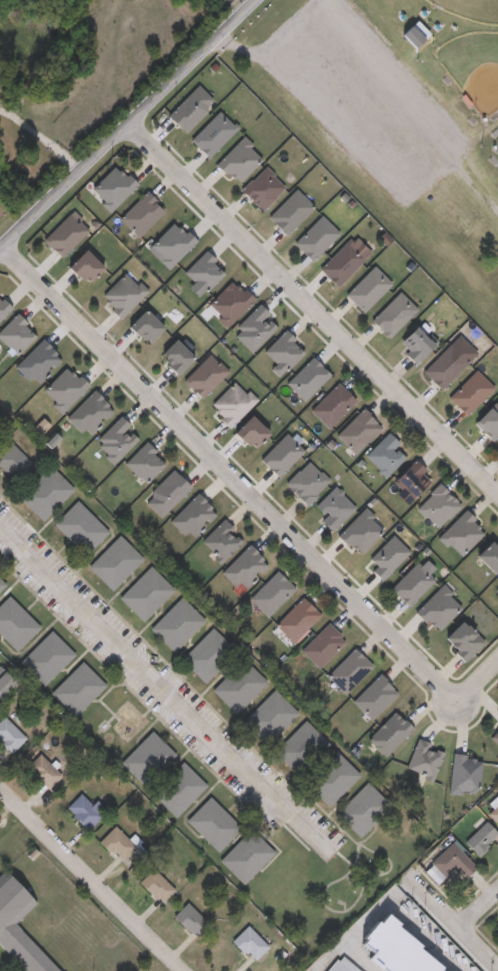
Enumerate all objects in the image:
park: (470, 10)
building: (417, 37)
park: (473, 70)
park: (395, 122)
road: (126, 125)
building: (212, 133)
road: (41, 139)
park: (496, 146)
building: (238, 160)
building: (262, 188)
building: (289, 211)
building: (140, 213)
building: (65, 233)
building: (315, 237)
building: (341, 262)
building: (83, 265)
building: (367, 288)
building: (121, 293)
building: (228, 301)
building: (3, 307)
road: (311, 313)
building: (392, 313)
building: (143, 324)
building: (15, 333)
building: (414, 342)
building: (174, 355)
building: (36, 361)
building: (444, 365)
building: (204, 374)
building: (469, 391)
building: (230, 402)
building: (331, 403)
building: (488, 420)
building: (249, 430)
building: (357, 430)
building: (384, 453)
building: (13, 460)
building: (411, 477)
road: (234, 480)
building: (306, 481)
building: (45, 492)
building: (436, 505)
building: (333, 507)
building: (80, 527)
building: (459, 533)
building: (488, 553)
building: (114, 561)
building: (1, 583)
building: (496, 588)
building: (145, 592)
building: (270, 592)
building: (295, 618)
building: (15, 623)
building: (176, 623)
building: (461, 639)
building: (321, 643)
building: (208, 654)
building: (46, 657)
building: (348, 669)
building: (4, 681)
road: (165, 685)
building: (238, 685)
building: (77, 688)
road: (481, 695)
building: (373, 696)
building: (269, 716)
building: (388, 732)
building: (9, 735)
building: (299, 746)
building: (146, 757)
building: (422, 757)
building: (41, 770)
building: (462, 773)
building: (331, 778)
building: (178, 788)
building: (362, 808)
building: (83, 809)
building: (493, 811)
building: (213, 824)
building: (480, 837)
building: (116, 843)
building: (246, 855)
building: (450, 861)
road: (95, 876)
building: (154, 884)
road: (481, 905)
road: (455, 913)
building: (189, 918)
road: (410, 922)
building: (18, 929)
building: (248, 942)
building: (340, 965)

